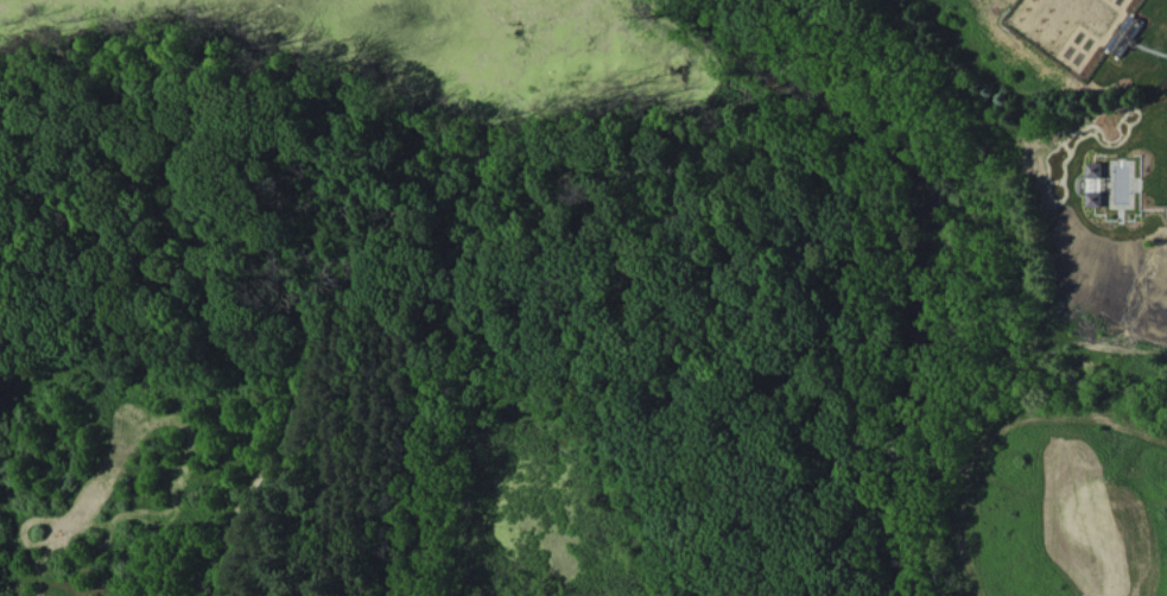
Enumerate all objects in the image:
building: (1125, 34)
building: (1099, 183)

